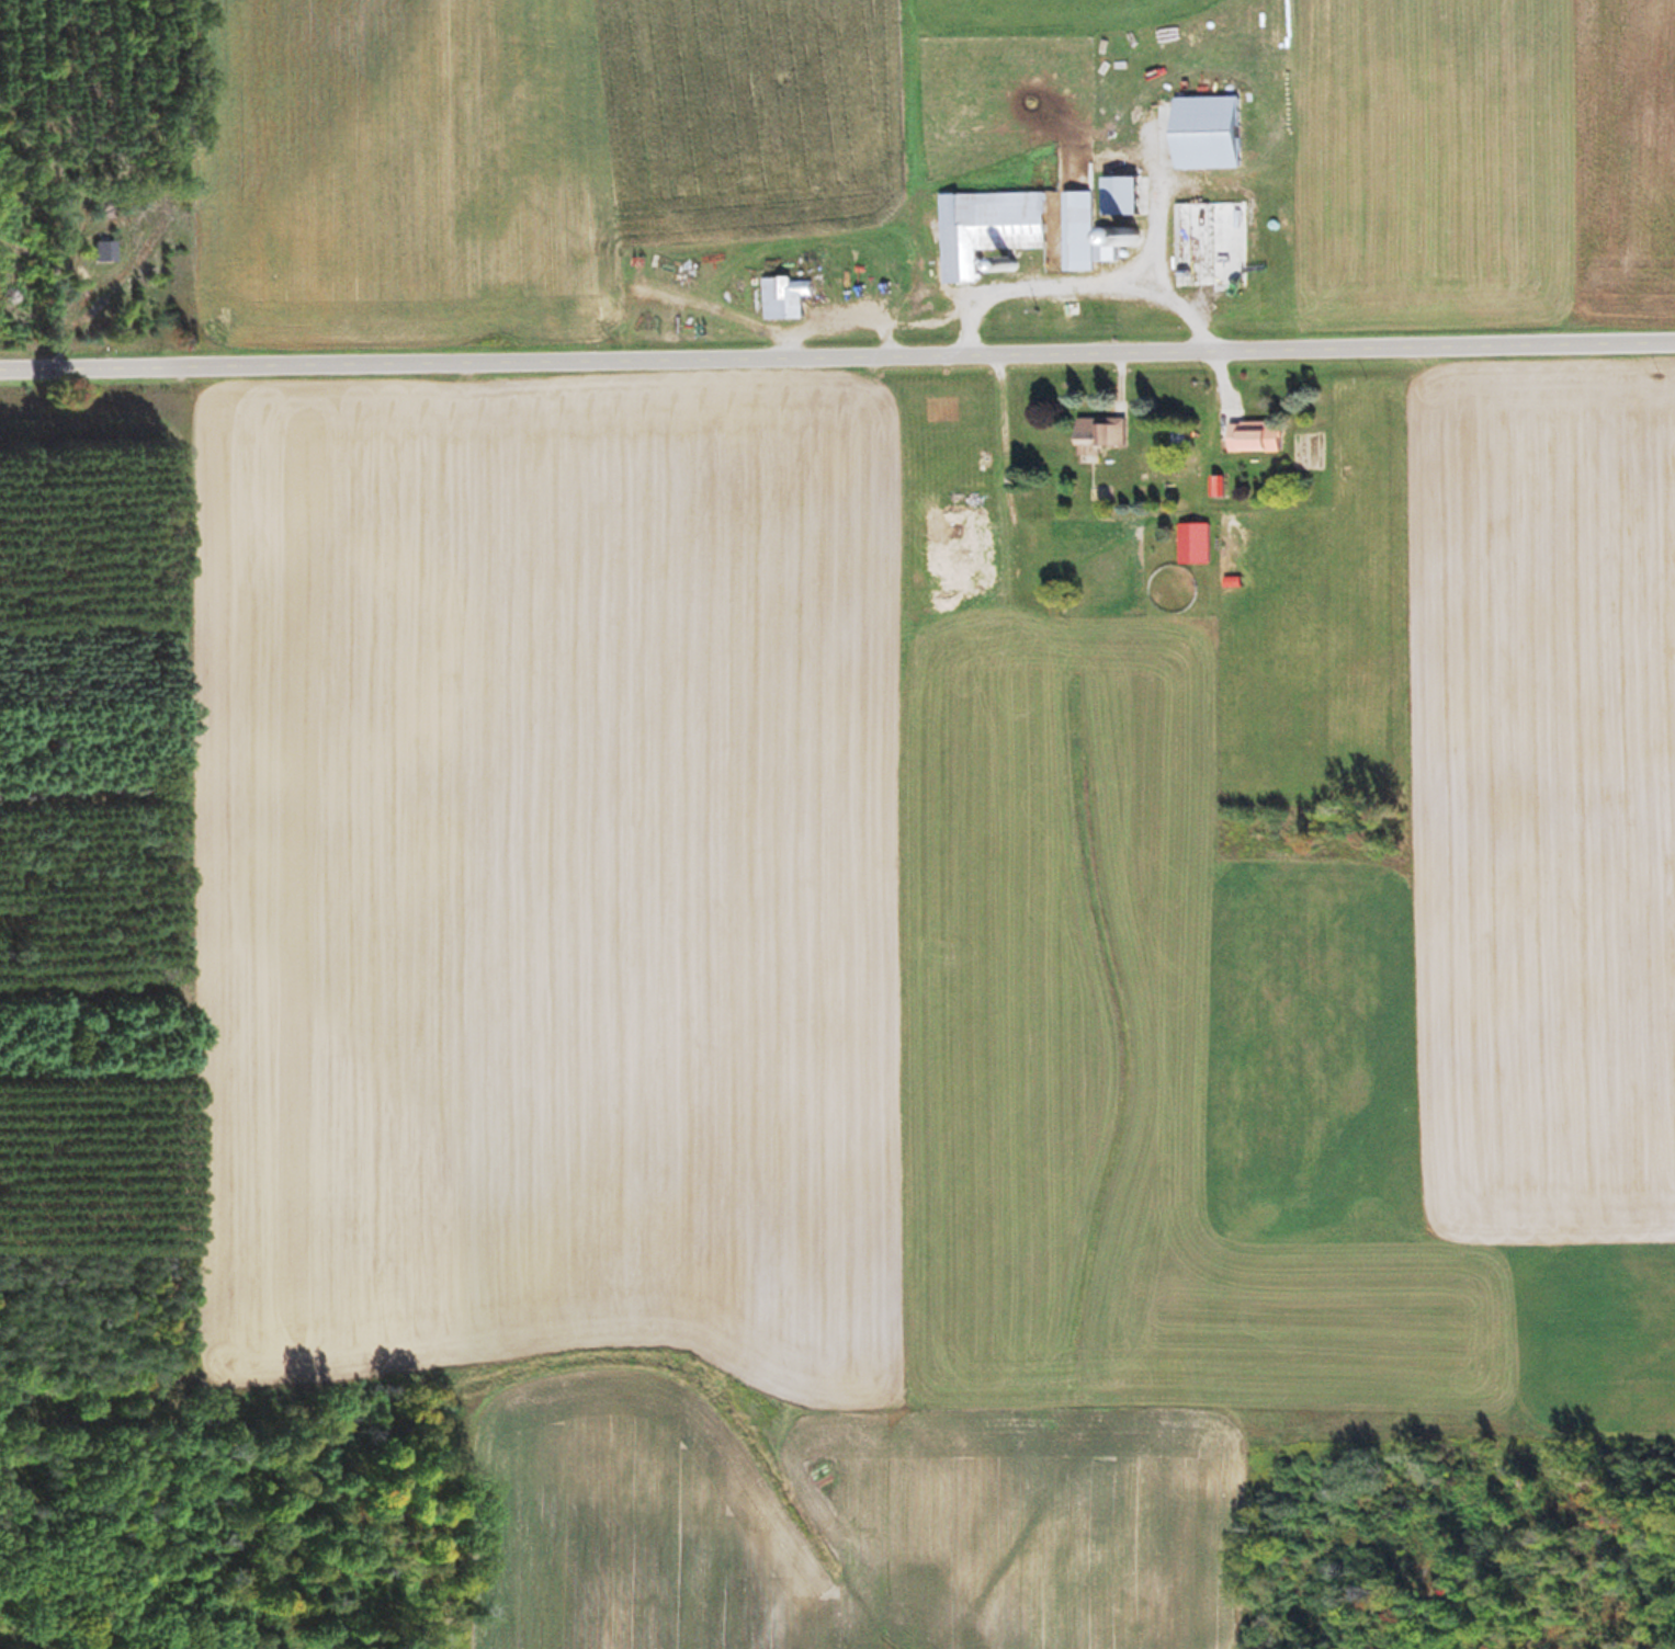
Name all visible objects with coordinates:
building: (1215, 133)
building: (1130, 196)
building: (994, 229)
building: (1083, 232)
building: (109, 241)
building: (1119, 243)
building: (103, 251)
building: (791, 299)
road: (837, 353)
building: (1106, 434)
building: (1264, 437)
building: (1200, 548)
road: (197, 868)

